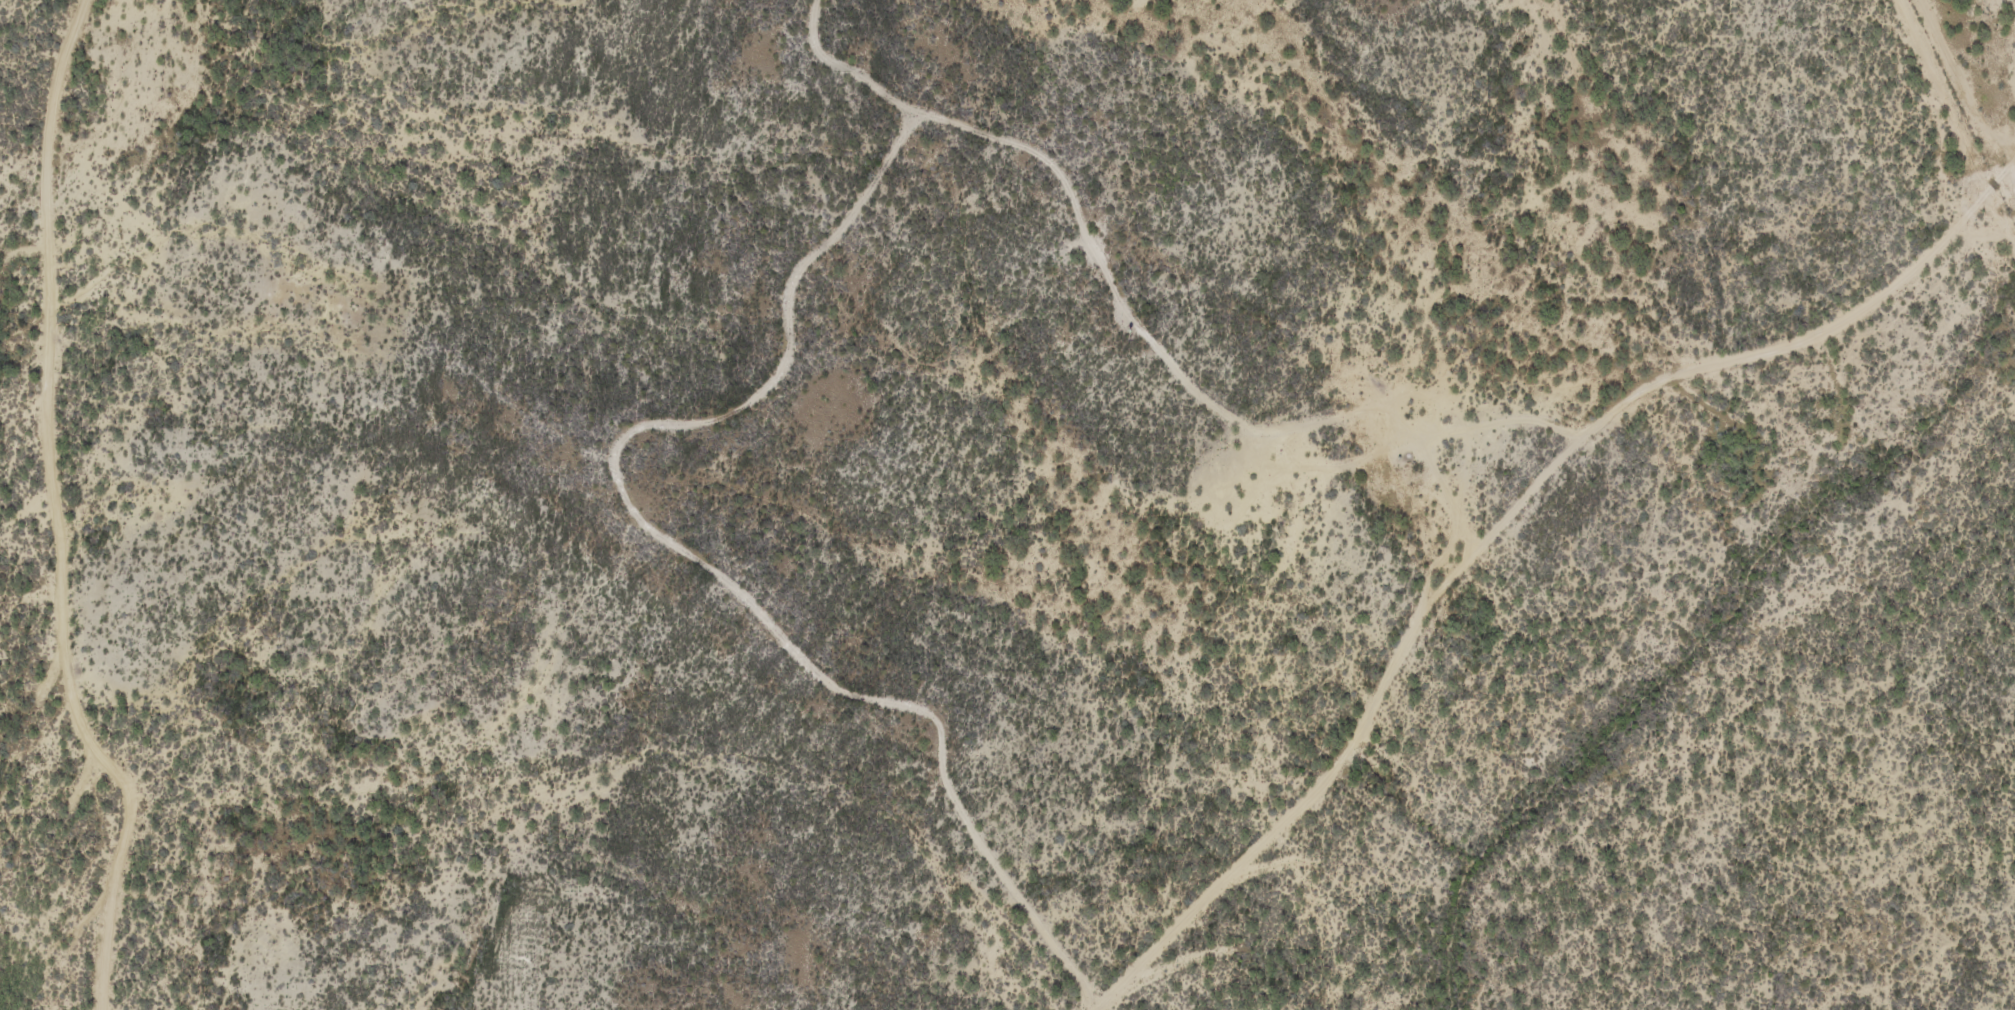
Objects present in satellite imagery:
road: (1951, 90)
road: (1670, 171)
road: (2004, 203)
road: (55, 518)
road: (1510, 521)

